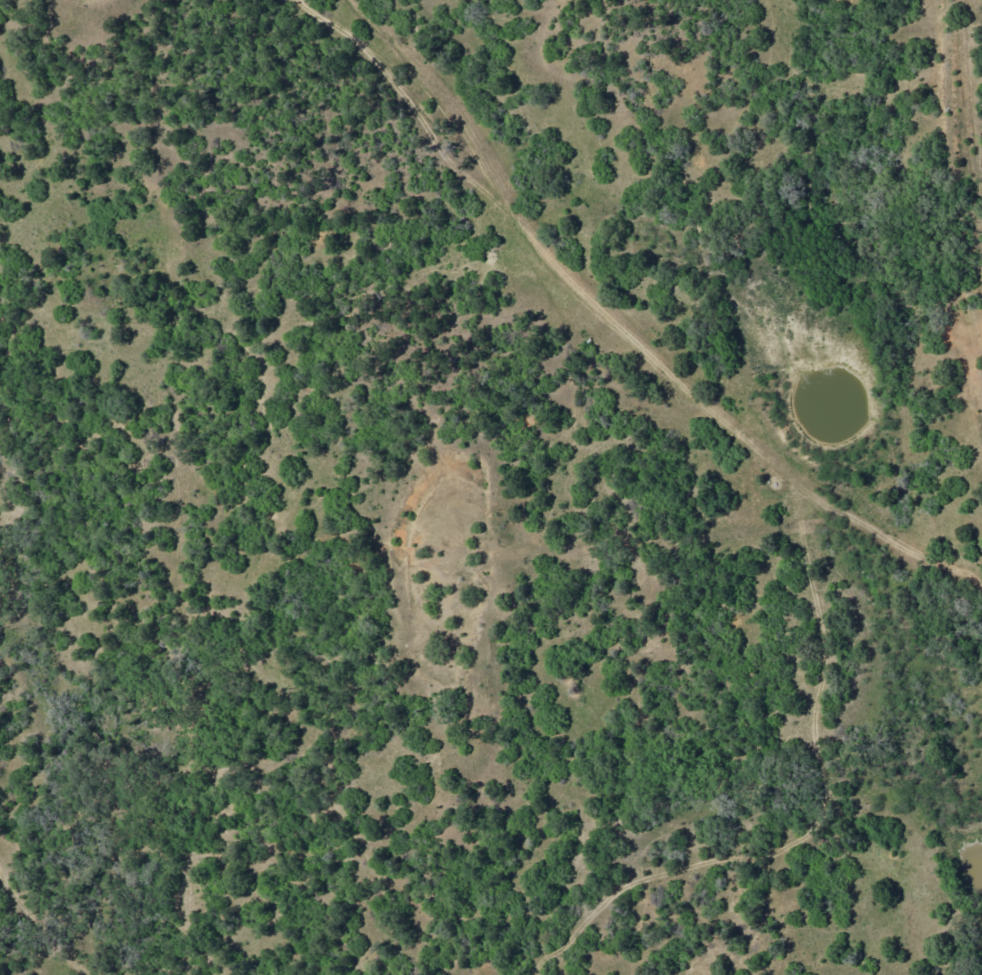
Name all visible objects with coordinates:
road: (498, 175)

